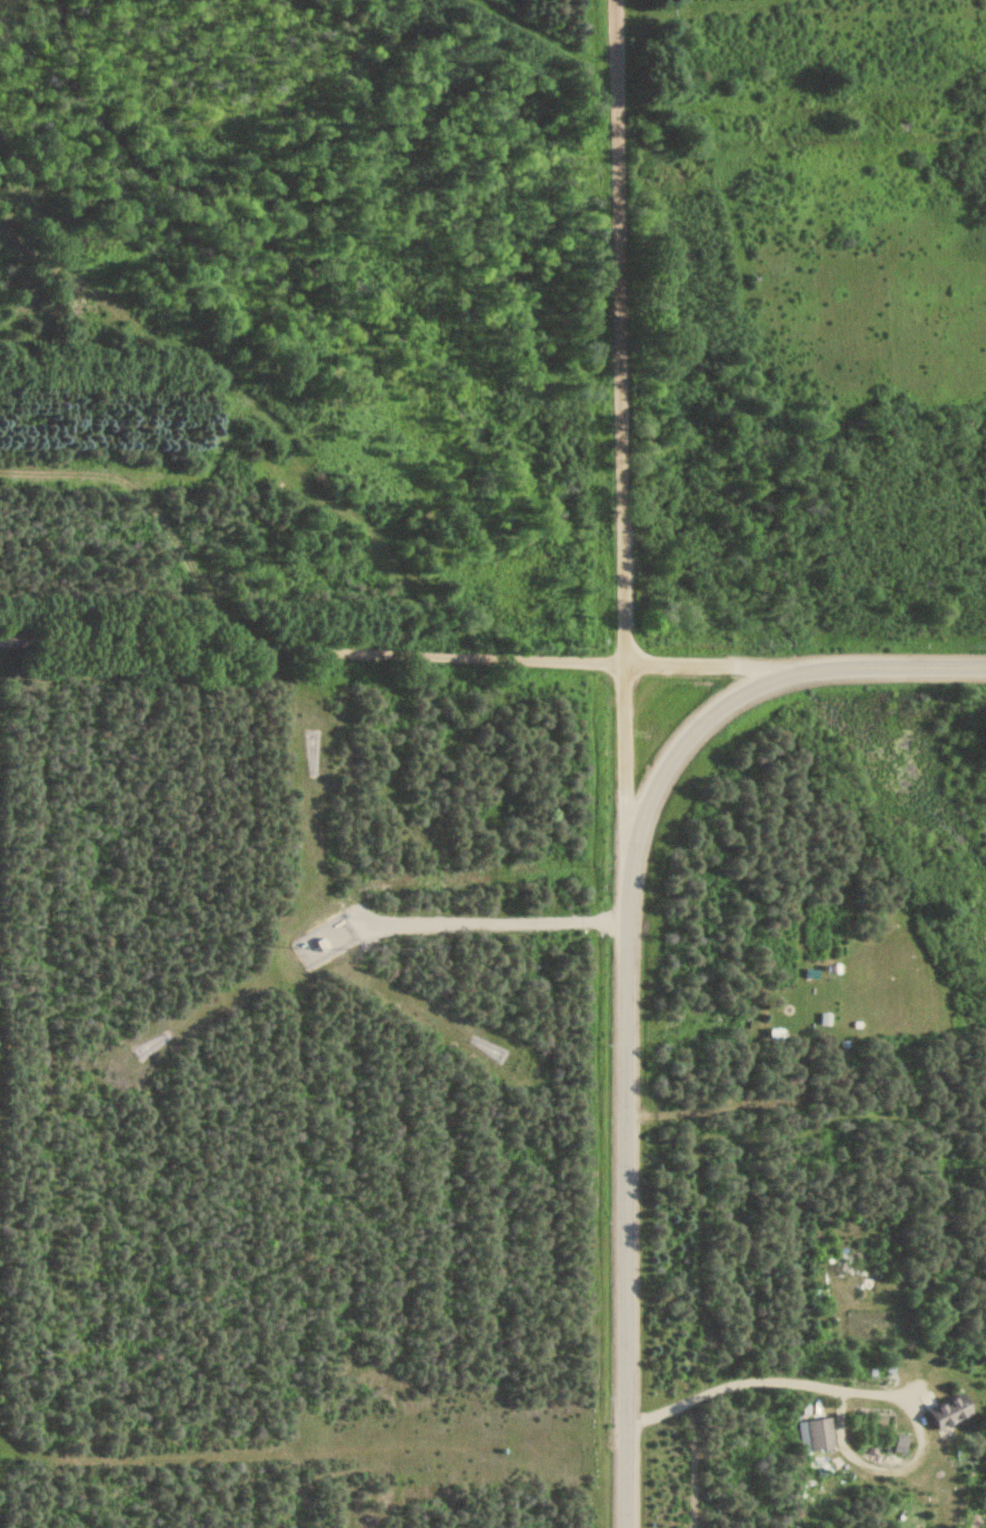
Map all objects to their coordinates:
river: (317, 272)
road: (622, 437)
river: (622, 526)
river: (716, 585)
road: (313, 650)
river: (807, 668)
road: (891, 668)
road: (712, 669)
road: (679, 746)
river: (902, 779)
road: (627, 1201)
building: (946, 1411)
building: (819, 1433)

